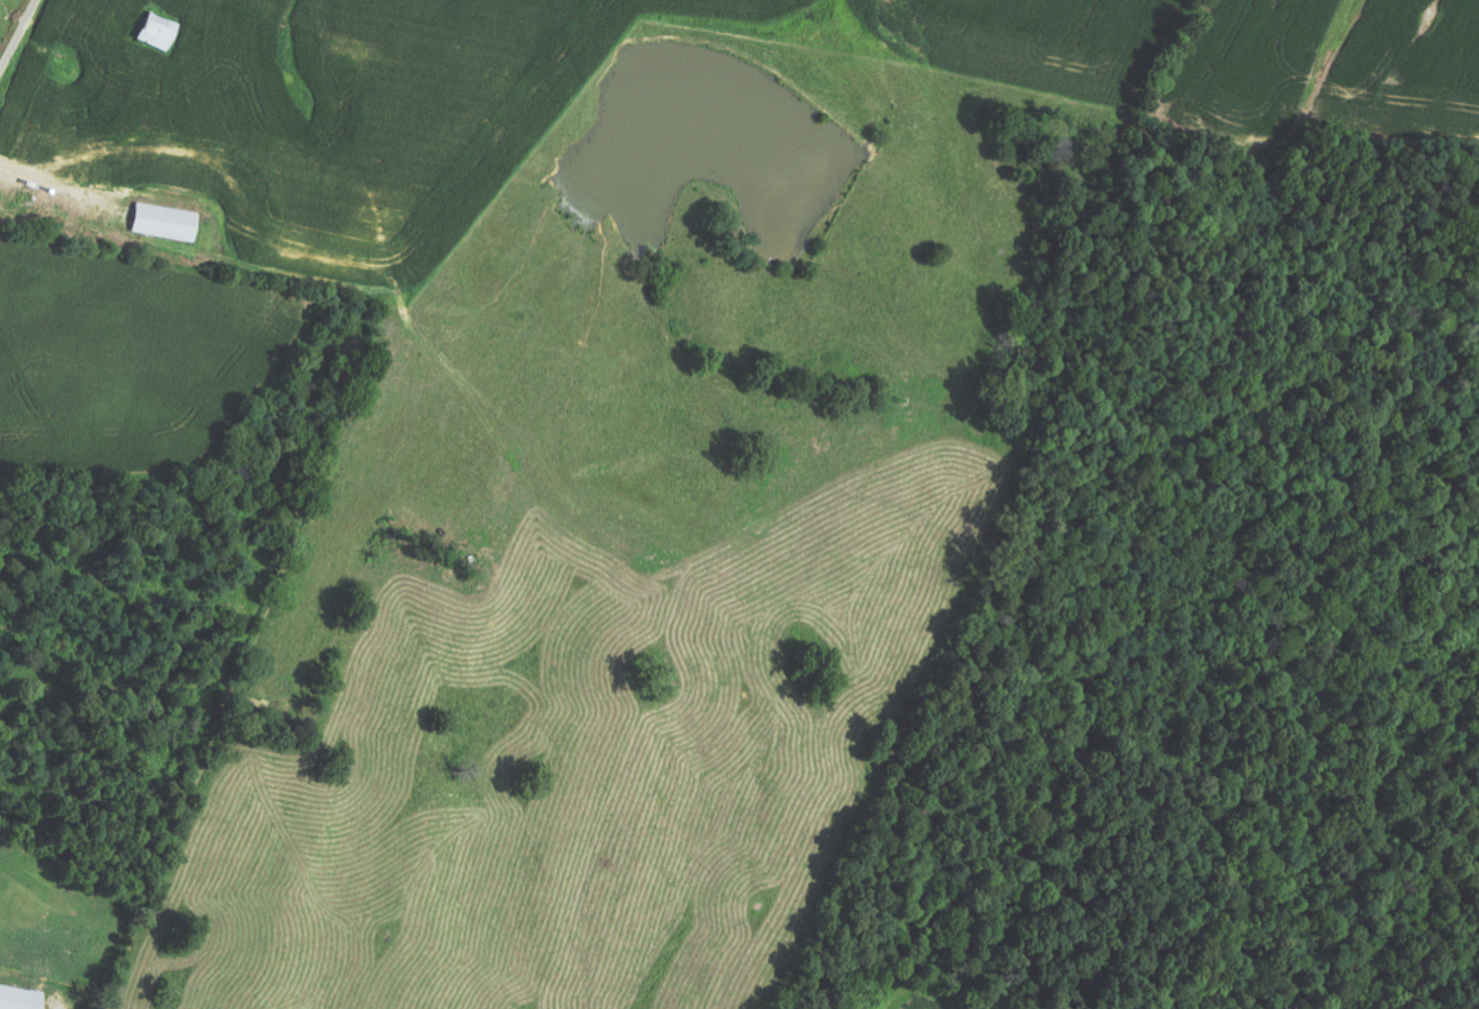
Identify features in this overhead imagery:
building: (160, 32)
road: (20, 37)
building: (168, 222)
building: (22, 997)

